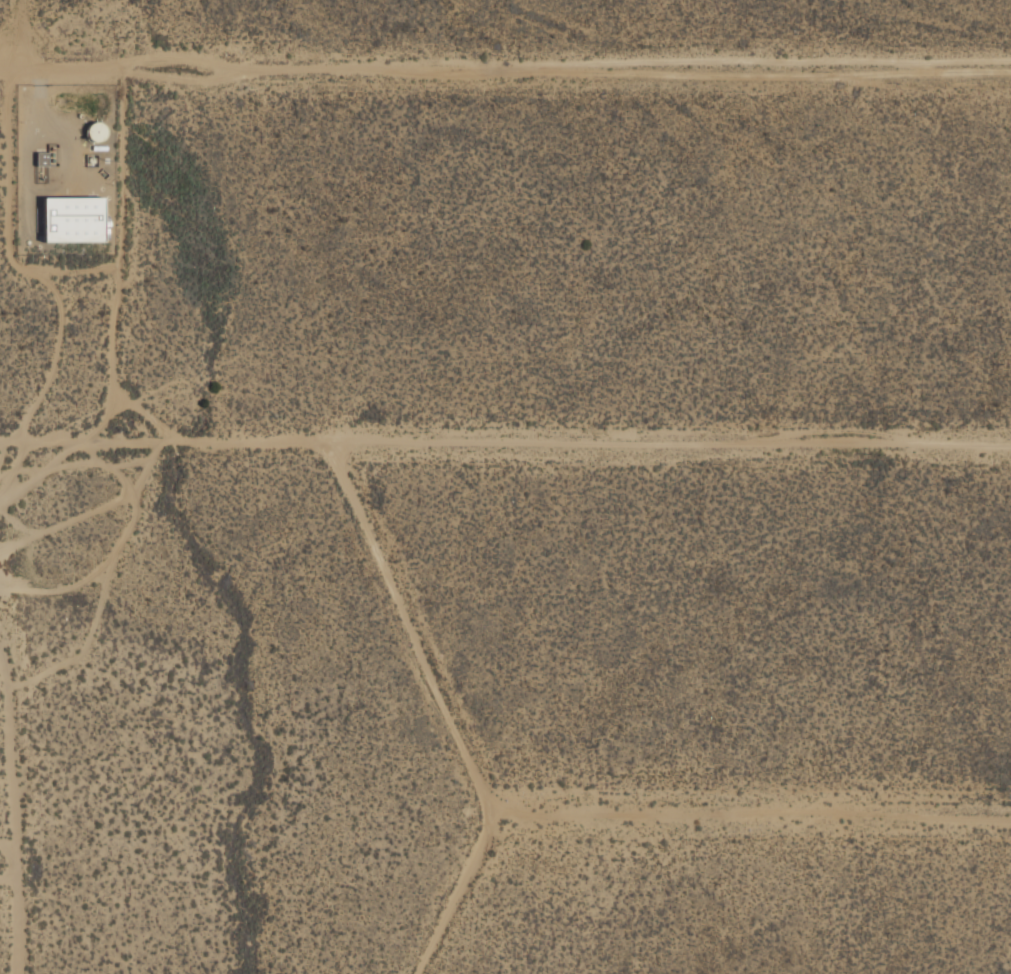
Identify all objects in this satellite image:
road: (505, 71)
building: (95, 130)
storage tank: (95, 130)
building: (40, 159)
road: (28, 190)
building: (71, 219)
road: (24, 268)
road: (79, 272)
road: (114, 282)
road: (105, 420)
road: (505, 445)
road: (452, 709)
road: (755, 811)

